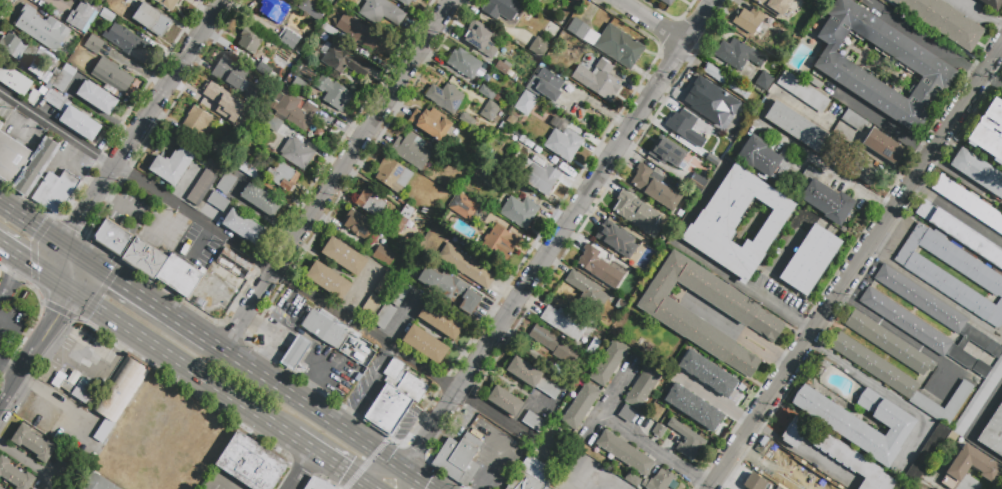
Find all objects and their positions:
building: (125, 0)
building: (889, 0)
building: (406, 1)
building: (667, 2)
building: (167, 3)
building: (992, 4)
building: (775, 6)
building: (273, 9)
building: (310, 9)
building: (381, 12)
building: (501, 12)
road: (980, 13)
building: (80, 16)
building: (107, 16)
building: (152, 20)
road: (651, 21)
building: (749, 21)
building: (944, 21)
building: (42, 29)
building: (329, 30)
building: (358, 32)
building: (484, 40)
building: (128, 42)
building: (249, 42)
building: (291, 43)
building: (610, 43)
road: (930, 44)
building: (94, 45)
building: (538, 48)
building: (29, 54)
building: (738, 54)
building: (342, 60)
building: (465, 64)
building: (838, 68)
building: (504, 69)
building: (229, 74)
building: (111, 77)
building: (63, 78)
building: (14, 79)
building: (598, 80)
building: (763, 81)
building: (728, 84)
building: (815, 84)
building: (299, 85)
road: (991, 85)
building: (545, 86)
building: (803, 92)
building: (487, 93)
building: (212, 94)
building: (252, 94)
building: (334, 94)
building: (34, 96)
building: (704, 96)
building: (97, 97)
road: (162, 97)
building: (446, 97)
building: (497, 98)
building: (55, 100)
building: (525, 103)
building: (297, 110)
building: (491, 114)
building: (512, 120)
building: (197, 121)
building: (468, 121)
building: (854, 121)
road: (881, 122)
building: (80, 123)
building: (431, 123)
building: (273, 124)
building: (1, 125)
building: (237, 125)
building: (725, 126)
building: (685, 127)
building: (989, 130)
building: (804, 131)
building: (218, 144)
building: (563, 144)
building: (530, 145)
building: (883, 146)
building: (536, 149)
building: (411, 150)
building: (666, 152)
building: (297, 153)
building: (765, 158)
building: (713, 159)
building: (11, 160)
road: (824, 165)
building: (172, 166)
building: (36, 167)
building: (248, 171)
building: (567, 171)
building: (863, 171)
building: (978, 172)
building: (394, 174)
building: (539, 175)
building: (283, 176)
road: (339, 176)
building: (698, 179)
building: (226, 183)
building: (201, 187)
building: (654, 188)
building: (55, 192)
road: (585, 195)
building: (823, 196)
building: (260, 200)
building: (218, 202)
building: (969, 203)
road: (118, 206)
building: (372, 206)
building: (462, 207)
building: (424, 210)
building: (635, 210)
road: (956, 212)
building: (520, 214)
building: (404, 222)
building: (737, 223)
traffic signals: (79, 225)
building: (358, 225)
road: (36, 226)
building: (243, 227)
building: (959, 232)
road: (74, 237)
building: (113, 237)
building: (616, 239)
building: (501, 241)
road: (200, 243)
building: (343, 257)
building: (383, 257)
building: (145, 258)
building: (811, 260)
road: (259, 262)
traffic signals: (29, 263)
building: (234, 264)
road: (34, 265)
building: (467, 266)
road: (856, 266)
building: (599, 267)
building: (179, 276)
building: (982, 276)
road: (12, 277)
traffic signals: (114, 278)
building: (329, 280)
building: (385, 284)
building: (450, 289)
road: (745, 289)
building: (587, 292)
building: (400, 294)
road: (141, 295)
building: (371, 306)
building: (935, 309)
traffic signals: (60, 315)
building: (384, 317)
building: (674, 317)
road: (11, 320)
building: (440, 321)
building: (565, 323)
road: (260, 328)
building: (326, 328)
road: (890, 329)
building: (920, 331)
road: (735, 332)
road: (308, 337)
building: (889, 343)
building: (425, 344)
building: (554, 345)
road: (38, 349)
building: (295, 352)
gas station: (295, 352)
building: (657, 353)
road: (178, 360)
building: (608, 362)
road: (11, 365)
building: (823, 365)
building: (682, 370)
road: (91, 377)
building: (532, 377)
building: (74, 378)
building: (58, 380)
building: (900, 380)
building: (643, 385)
building: (933, 385)
road: (367, 388)
building: (722, 391)
building: (80, 392)
road: (887, 395)
building: (121, 396)
building: (395, 396)
road: (611, 399)
building: (978, 399)
building: (504, 401)
road: (716, 402)
road: (307, 405)
building: (665, 405)
building: (581, 406)
building: (693, 407)
building: (627, 414)
building: (535, 422)
building: (843, 424)
road: (973, 428)
road: (431, 430)
building: (658, 430)
building: (993, 433)
building: (684, 440)
building: (952, 441)
building: (33, 443)
road: (657, 449)
building: (624, 452)
building: (836, 452)
building: (926, 455)
road: (324, 456)
building: (460, 458)
building: (67, 460)
building: (250, 463)
road: (366, 464)
road: (29, 465)
road: (776, 465)
building: (970, 467)
road: (592, 468)
road: (300, 469)
road: (496, 469)
building: (530, 474)
building: (15, 475)
road: (382, 475)
parking lot: (582, 475)
road: (404, 479)
road: (418, 479)
building: (632, 480)
building: (662, 481)
road: (363, 482)
building: (98, 483)
road: (228, 483)
building: (316, 484)
building: (756, 484)
road: (365, 487)
road: (369, 487)
building: (1, 488)
building: (547, 488)
building: (933, 488)

